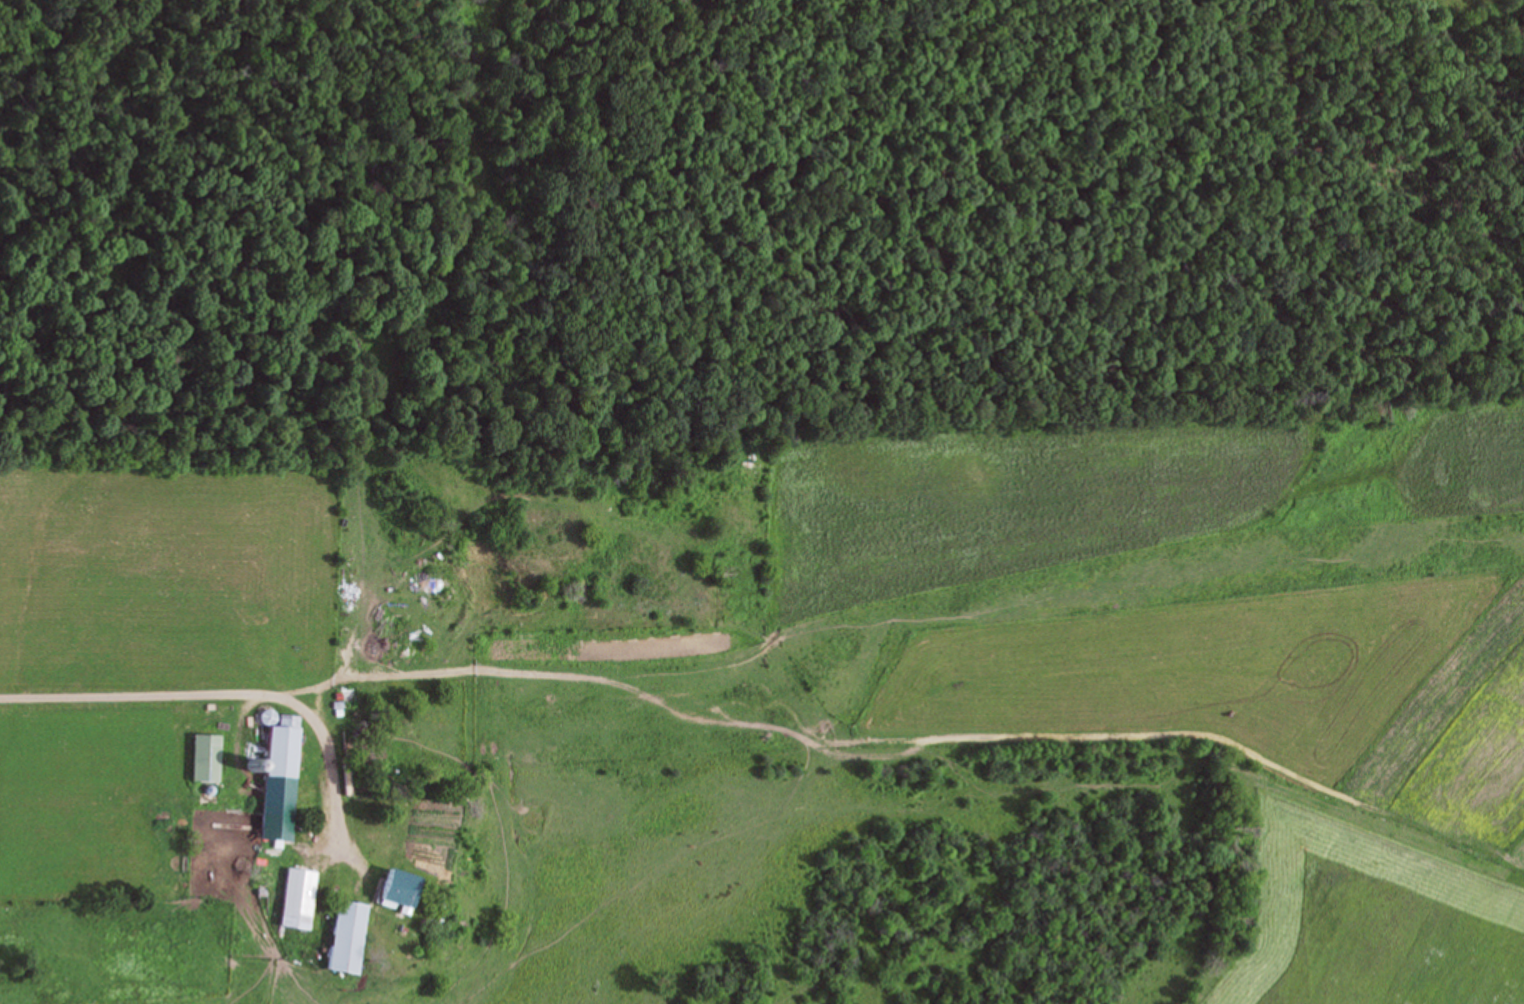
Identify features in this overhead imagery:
road: (90, 677)
building: (279, 782)
building: (392, 894)
building: (344, 936)

